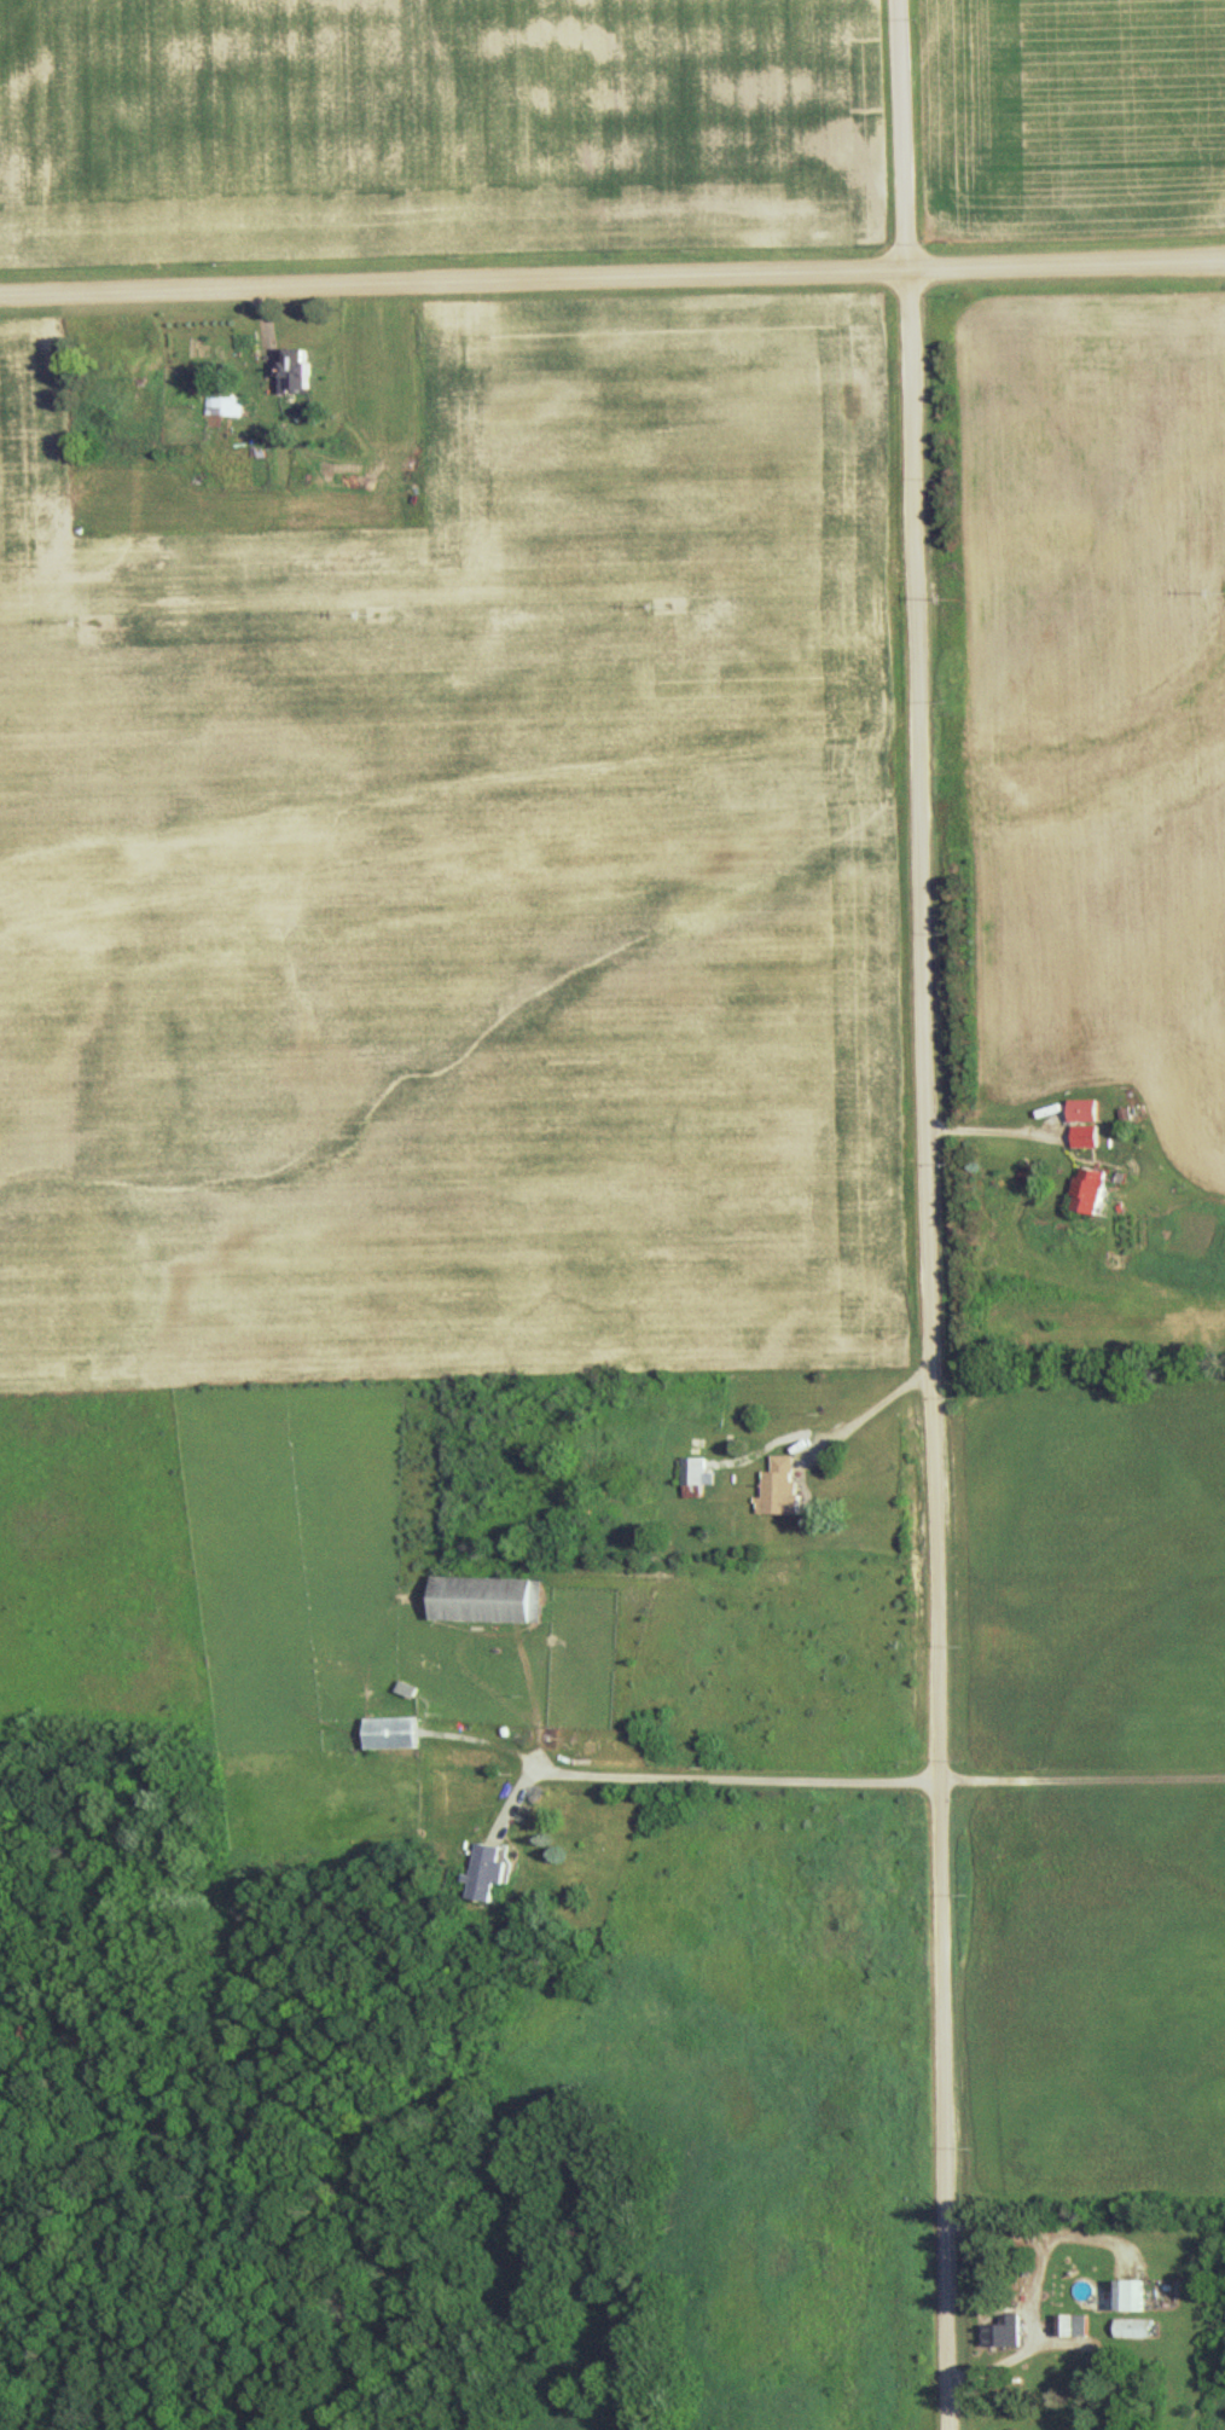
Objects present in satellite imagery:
road: (612, 279)
building: (302, 371)
building: (226, 404)
building: (1088, 1108)
building: (1090, 1133)
building: (1096, 1187)
road: (919, 1214)
building: (699, 1468)
building: (784, 1486)
building: (490, 1596)
building: (394, 1730)
building: (489, 1871)
building: (1136, 2292)
building: (1076, 2322)
building: (1137, 2326)
building: (1006, 2330)

